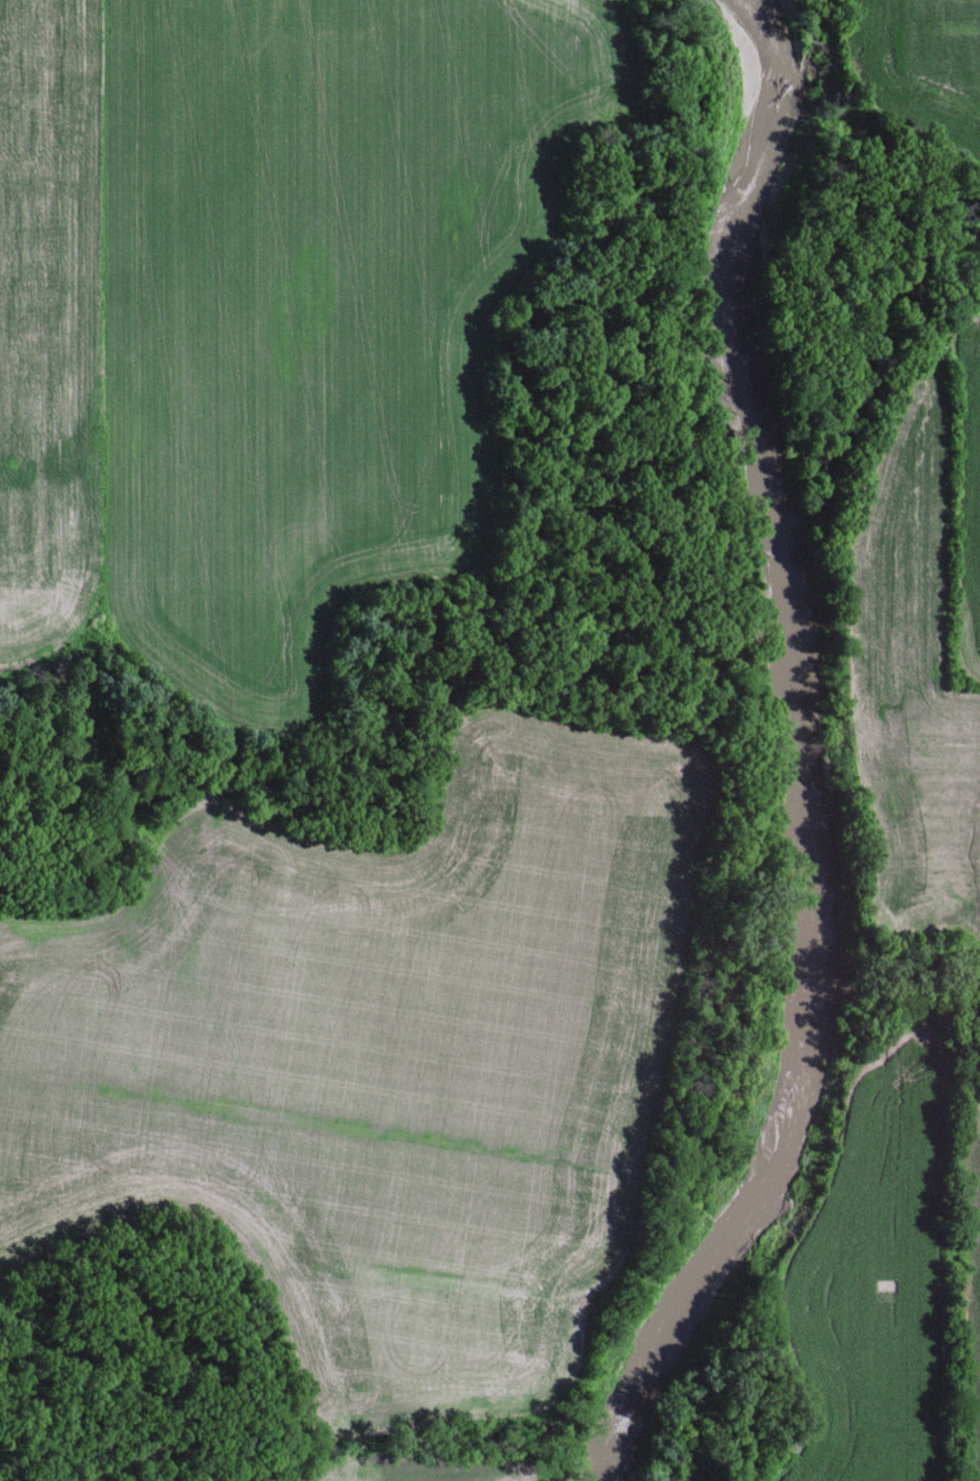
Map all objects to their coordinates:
river: (811, 760)

